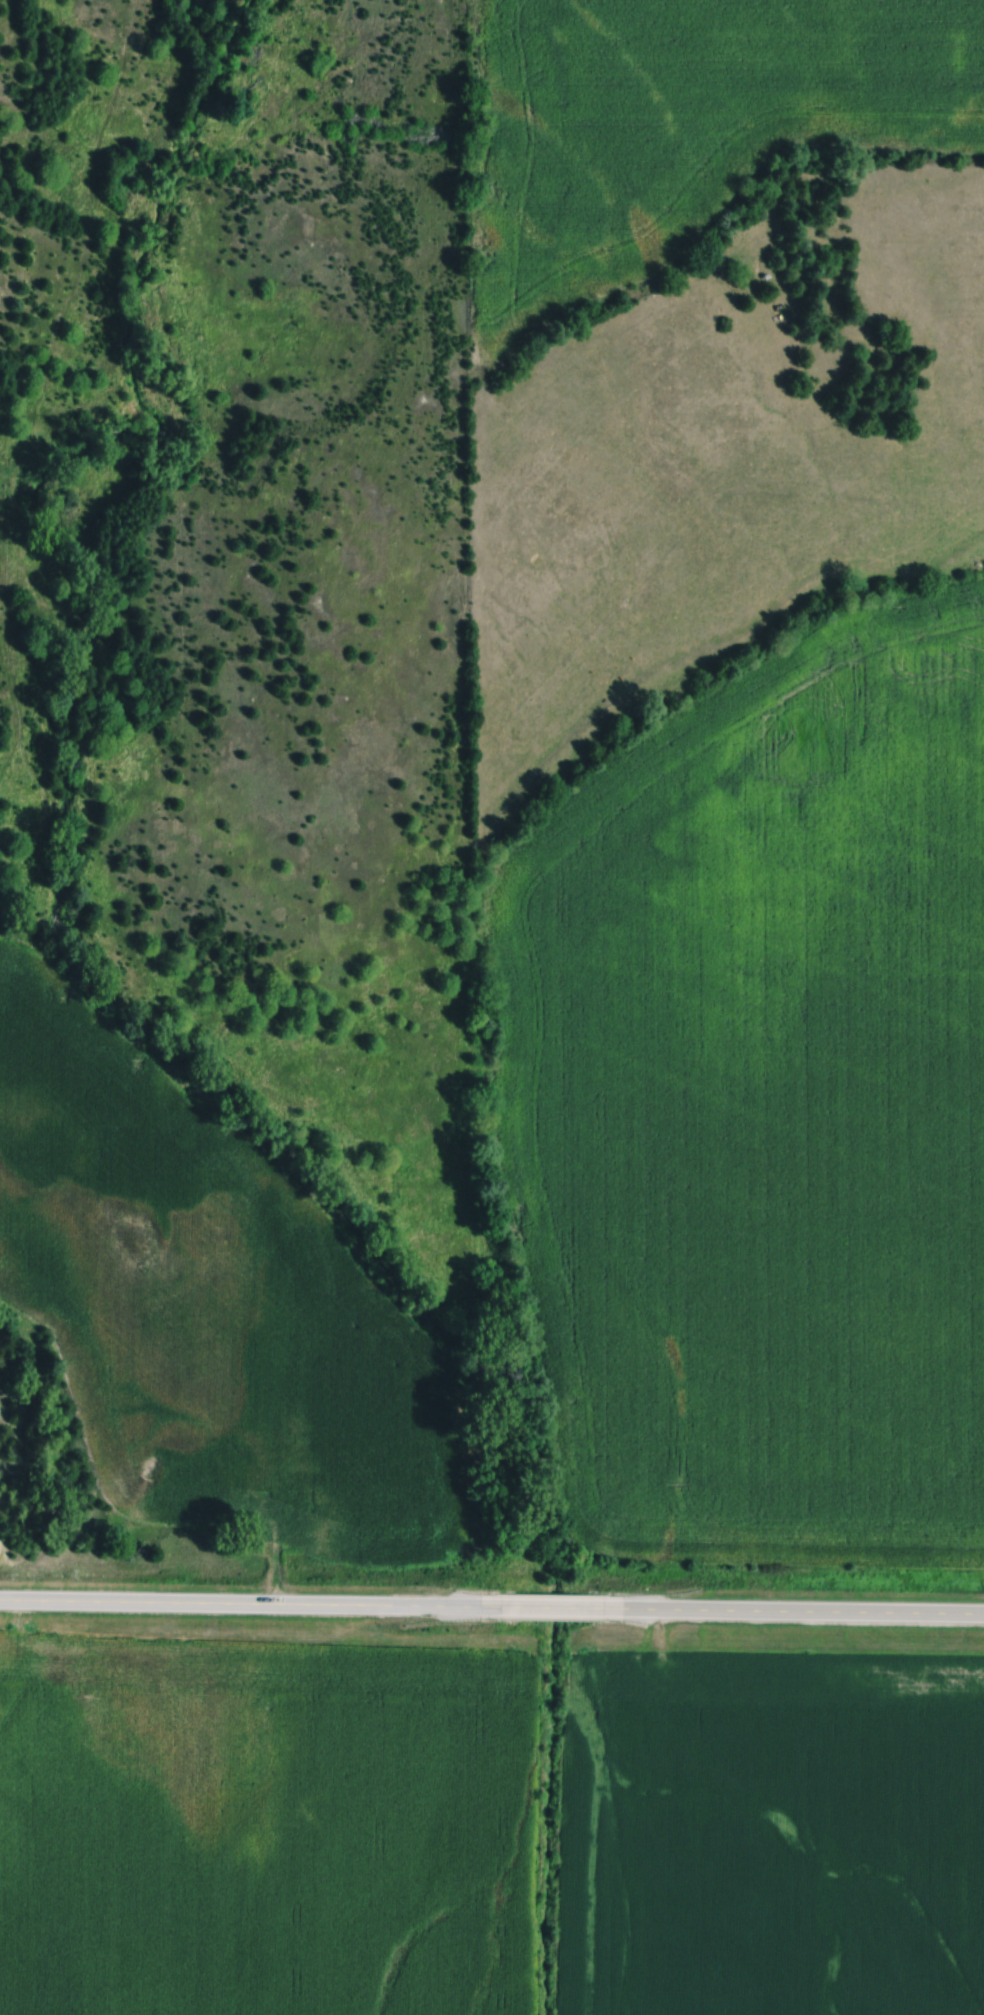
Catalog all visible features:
road: (255, 1602)
road: (566, 1605)
road: (803, 1610)

